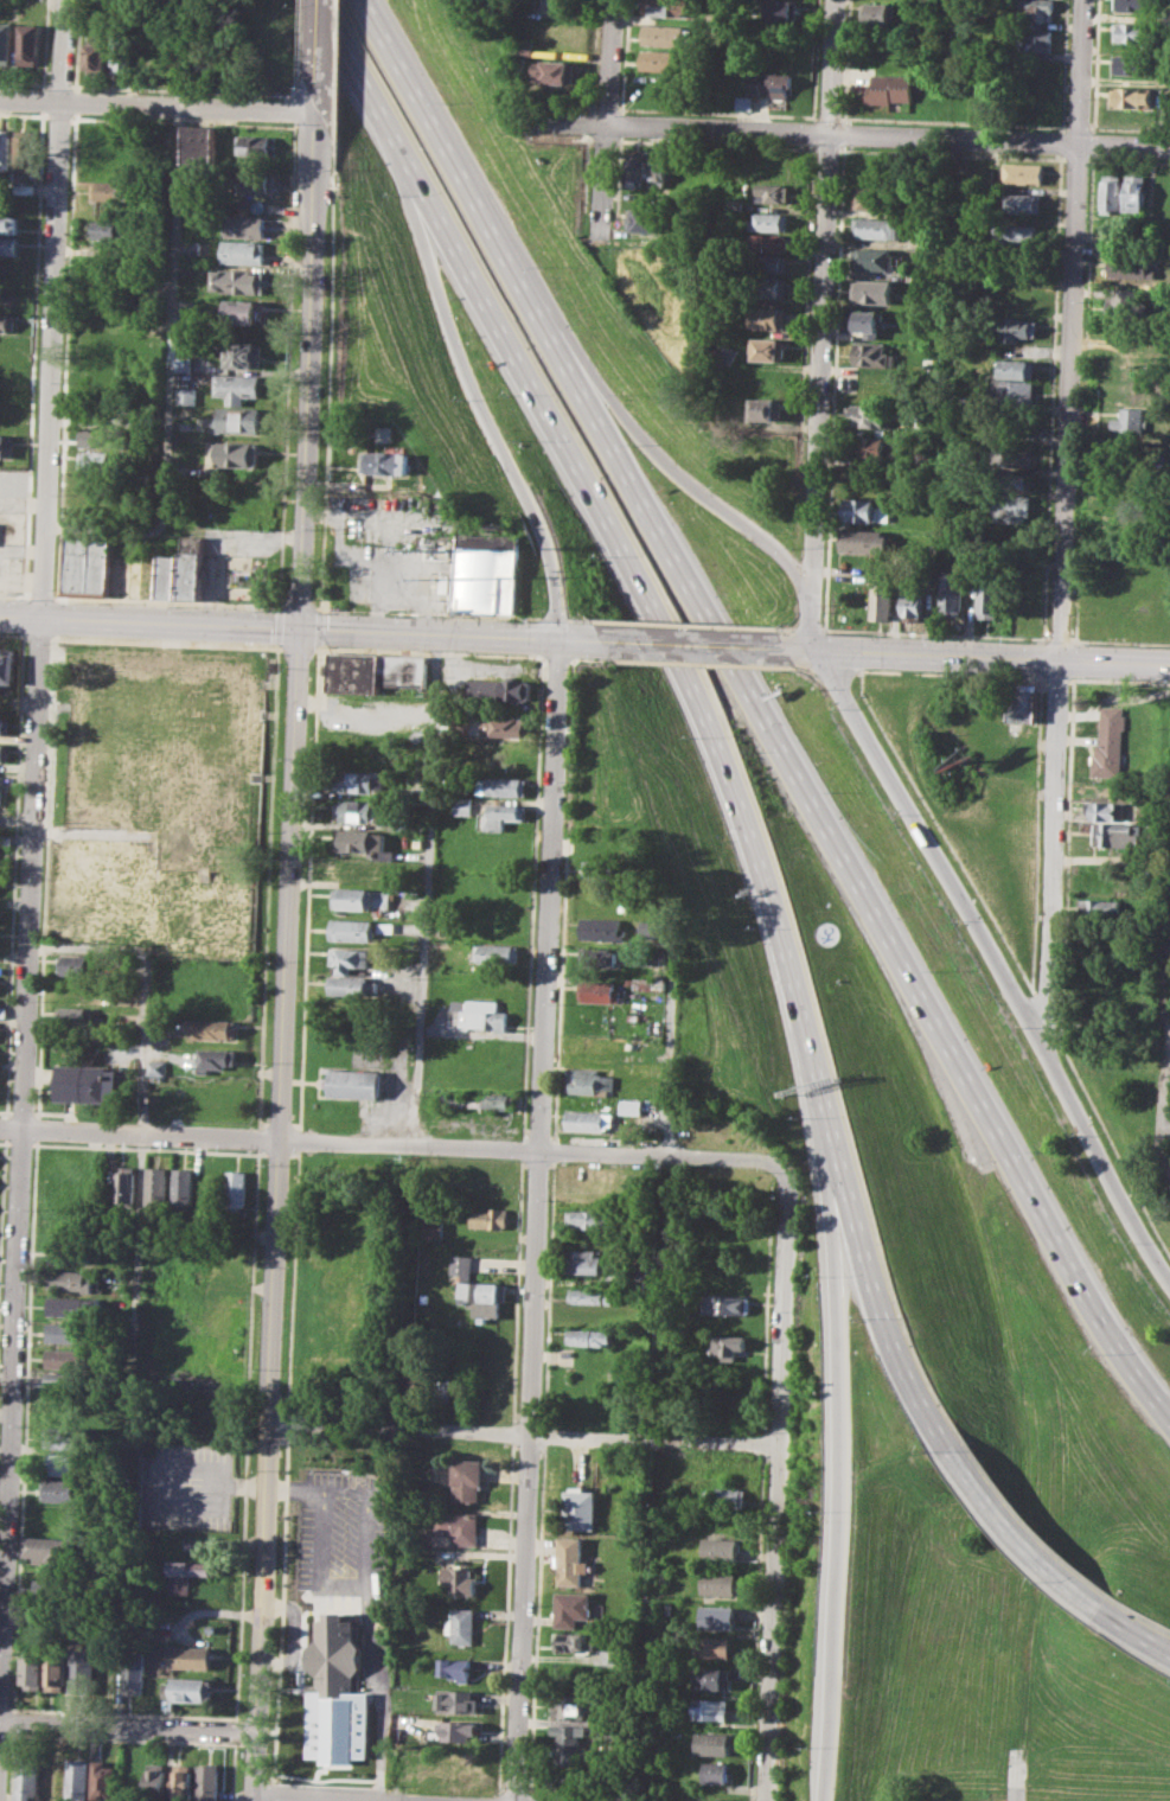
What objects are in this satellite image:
building: (1133, 5)
building: (665, 7)
building: (782, 9)
building: (1037, 9)
building: (876, 14)
building: (1133, 32)
building: (667, 36)
building: (1035, 40)
building: (6, 43)
building: (27, 43)
building: (529, 47)
road: (320, 49)
building: (96, 55)
building: (120, 55)
building: (664, 60)
building: (1133, 64)
road: (830, 66)
building: (558, 71)
building: (771, 84)
building: (889, 88)
building: (1133, 96)
building: (742, 102)
road: (159, 106)
road: (608, 117)
road: (853, 134)
building: (200, 145)
building: (257, 146)
building: (5, 147)
building: (26, 149)
building: (637, 168)
building: (658, 171)
building: (1023, 173)
building: (966, 179)
building: (255, 181)
building: (111, 190)
building: (773, 192)
building: (1112, 192)
building: (1137, 192)
building: (875, 198)
building: (1024, 202)
building: (735, 204)
building: (646, 218)
building: (769, 221)
building: (8, 223)
building: (244, 225)
building: (877, 226)
building: (111, 229)
building: (1019, 231)
building: (771, 242)
building: (1102, 244)
building: (8, 245)
building: (191, 245)
building: (244, 251)
building: (874, 258)
building: (769, 263)
building: (1130, 266)
building: (238, 280)
building: (769, 286)
building: (872, 290)
building: (1124, 301)
building: (241, 312)
road: (174, 315)
building: (767, 317)
building: (7, 321)
building: (867, 321)
building: (1017, 327)
building: (768, 349)
building: (241, 353)
building: (724, 355)
building: (872, 355)
building: (185, 364)
road: (819, 364)
building: (1019, 366)
building: (237, 387)
building: (1018, 391)
building: (187, 395)
road: (478, 404)
building: (767, 409)
building: (867, 415)
building: (236, 420)
building: (1131, 420)
building: (100, 435)
building: (6, 445)
building: (863, 446)
building: (237, 453)
building: (1015, 453)
building: (927, 459)
building: (98, 460)
building: (384, 461)
building: (1111, 488)
road: (699, 491)
building: (1012, 506)
building: (865, 511)
building: (1107, 517)
road: (1063, 519)
building: (865, 542)
building: (85, 566)
building: (192, 567)
building: (486, 571)
building: (168, 573)
building: (951, 594)
road: (14, 595)
road: (40, 596)
building: (990, 596)
building: (882, 600)
road: (167, 601)
building: (913, 605)
road: (299, 606)
road: (428, 612)
road: (554, 618)
road: (582, 619)
road: (685, 624)
road: (811, 624)
road: (303, 627)
road: (786, 627)
road: (808, 628)
road: (935, 633)
road: (1059, 638)
road: (1119, 641)
road: (701, 645)
road: (807, 650)
road: (995, 657)
building: (7, 666)
building: (403, 670)
building: (353, 672)
building: (499, 689)
road: (697, 698)
building: (1023, 702)
road: (759, 711)
building: (5, 726)
building: (506, 727)
building: (1111, 743)
building: (5, 751)
building: (360, 781)
building: (506, 786)
building: (463, 805)
building: (1106, 810)
building: (358, 811)
building: (501, 816)
road: (33, 831)
building: (1111, 834)
building: (360, 839)
building: (607, 869)
building: (358, 870)
road: (426, 889)
building: (362, 898)
building: (1099, 909)
building: (352, 928)
building: (605, 928)
building: (652, 930)
road: (286, 949)
building: (497, 952)
building: (596, 956)
building: (659, 956)
building: (350, 958)
building: (77, 964)
road: (996, 966)
building: (653, 983)
building: (353, 984)
building: (599, 990)
building: (479, 1014)
building: (76, 1016)
building: (213, 1028)
road: (671, 1037)
building: (216, 1058)
building: (159, 1066)
road: (1164, 1066)
building: (592, 1080)
building: (356, 1082)
building: (85, 1084)
building: (480, 1100)
road: (143, 1104)
building: (634, 1106)
building: (590, 1119)
road: (395, 1144)
building: (492, 1177)
building: (124, 1184)
building: (156, 1184)
building: (183, 1188)
building: (236, 1189)
building: (491, 1218)
road: (537, 1220)
building: (593, 1220)
building: (433, 1227)
building: (71, 1251)
building: (583, 1260)
building: (73, 1281)
building: (480, 1290)
building: (592, 1296)
building: (72, 1304)
building: (728, 1304)
road: (785, 1305)
building: (727, 1324)
building: (66, 1331)
building: (589, 1337)
building: (729, 1346)
building: (65, 1358)
building: (418, 1378)
building: (65, 1379)
building: (445, 1380)
road: (523, 1433)
building: (59, 1437)
building: (60, 1463)
road: (844, 1469)
building: (466, 1477)
road: (237, 1486)
parking lot: (185, 1487)
building: (57, 1489)
building: (724, 1497)
road: (205, 1503)
building: (577, 1506)
building: (454, 1528)
road: (1019, 1535)
road: (322, 1547)
building: (718, 1548)
building: (49, 1550)
road: (366, 1550)
parking lot: (350, 1559)
building: (570, 1561)
building: (185, 1573)
building: (459, 1579)
building: (718, 1583)
building: (52, 1589)
building: (575, 1607)
building: (716, 1616)
road: (773, 1622)
building: (462, 1624)
road: (1134, 1629)
building: (574, 1641)
building: (714, 1646)
road: (293, 1649)
building: (187, 1656)
building: (606, 1656)
building: (334, 1659)
building: (456, 1668)
building: (33, 1671)
building: (56, 1671)
building: (82, 1671)
building: (134, 1671)
building: (714, 1678)
building: (188, 1688)
road: (383, 1699)
building: (458, 1700)
building: (569, 1706)
building: (710, 1709)
road: (128, 1725)
building: (456, 1730)
building: (570, 1742)
building: (711, 1743)
building: (453, 1761)
building: (715, 1771)
building: (27, 1778)
building: (55, 1778)
building: (79, 1780)
building: (106, 1781)
building: (132, 1781)
building: (156, 1782)
building: (183, 1782)
building: (209, 1782)
road: (1015, 1782)
road: (351, 1795)

